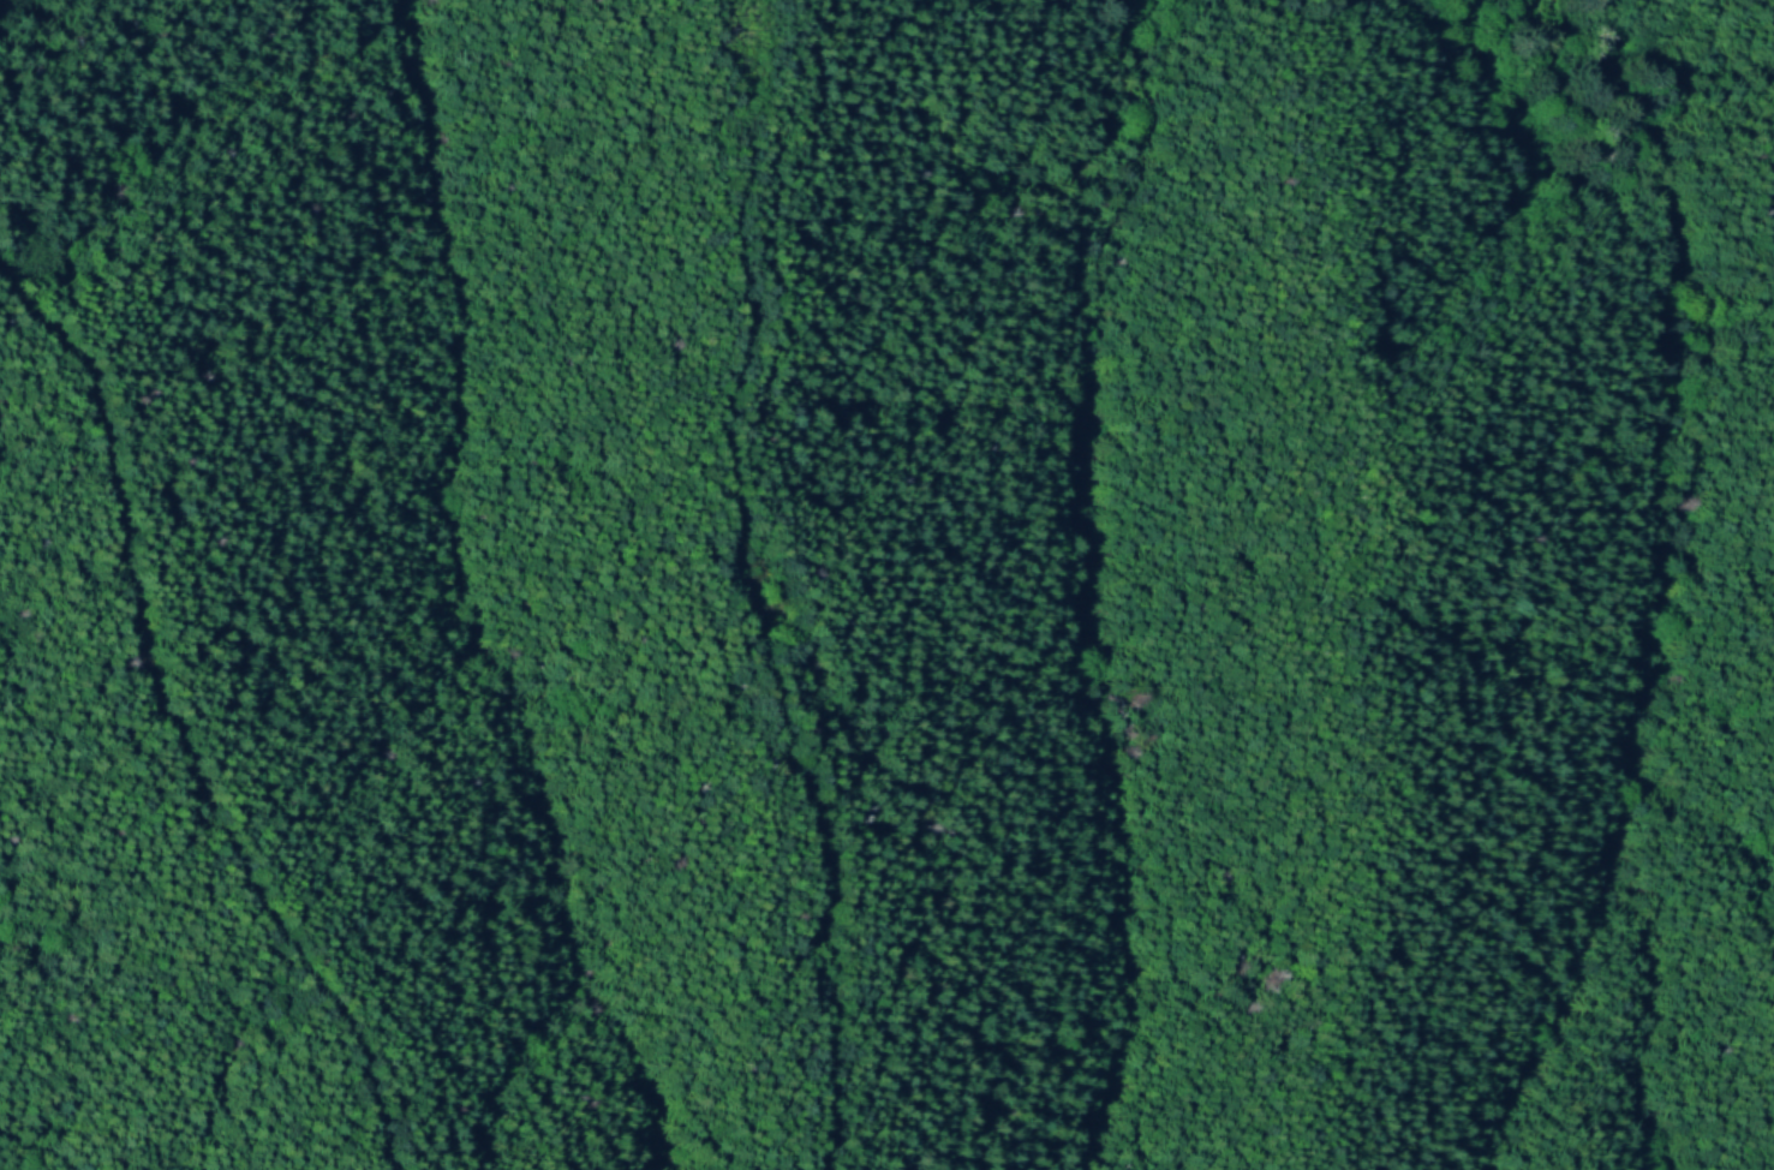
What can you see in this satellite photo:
road: (28, 1094)

